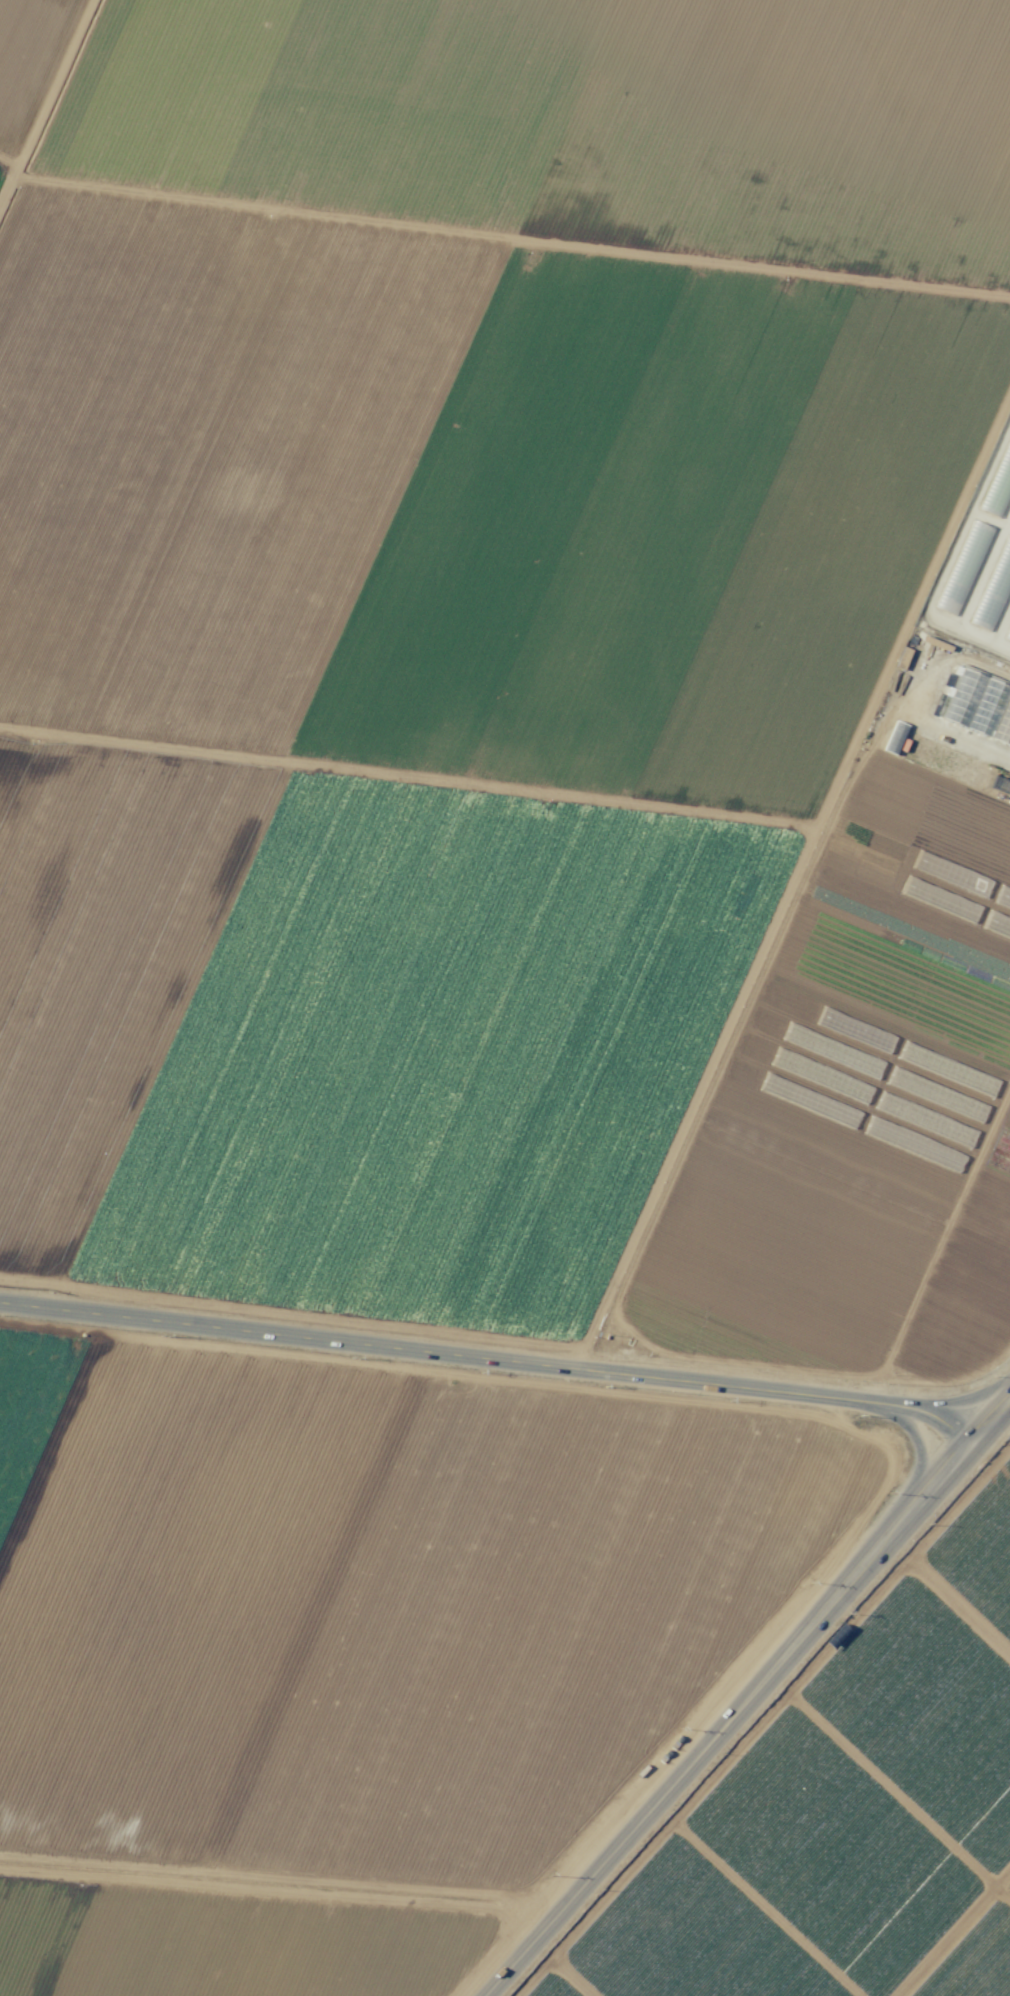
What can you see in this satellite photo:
crop: (504, 666)
building: (976, 701)
building: (894, 737)
road: (504, 1351)
road: (916, 1444)
crop: (344, 1648)
road: (750, 1700)
crop: (854, 1815)

